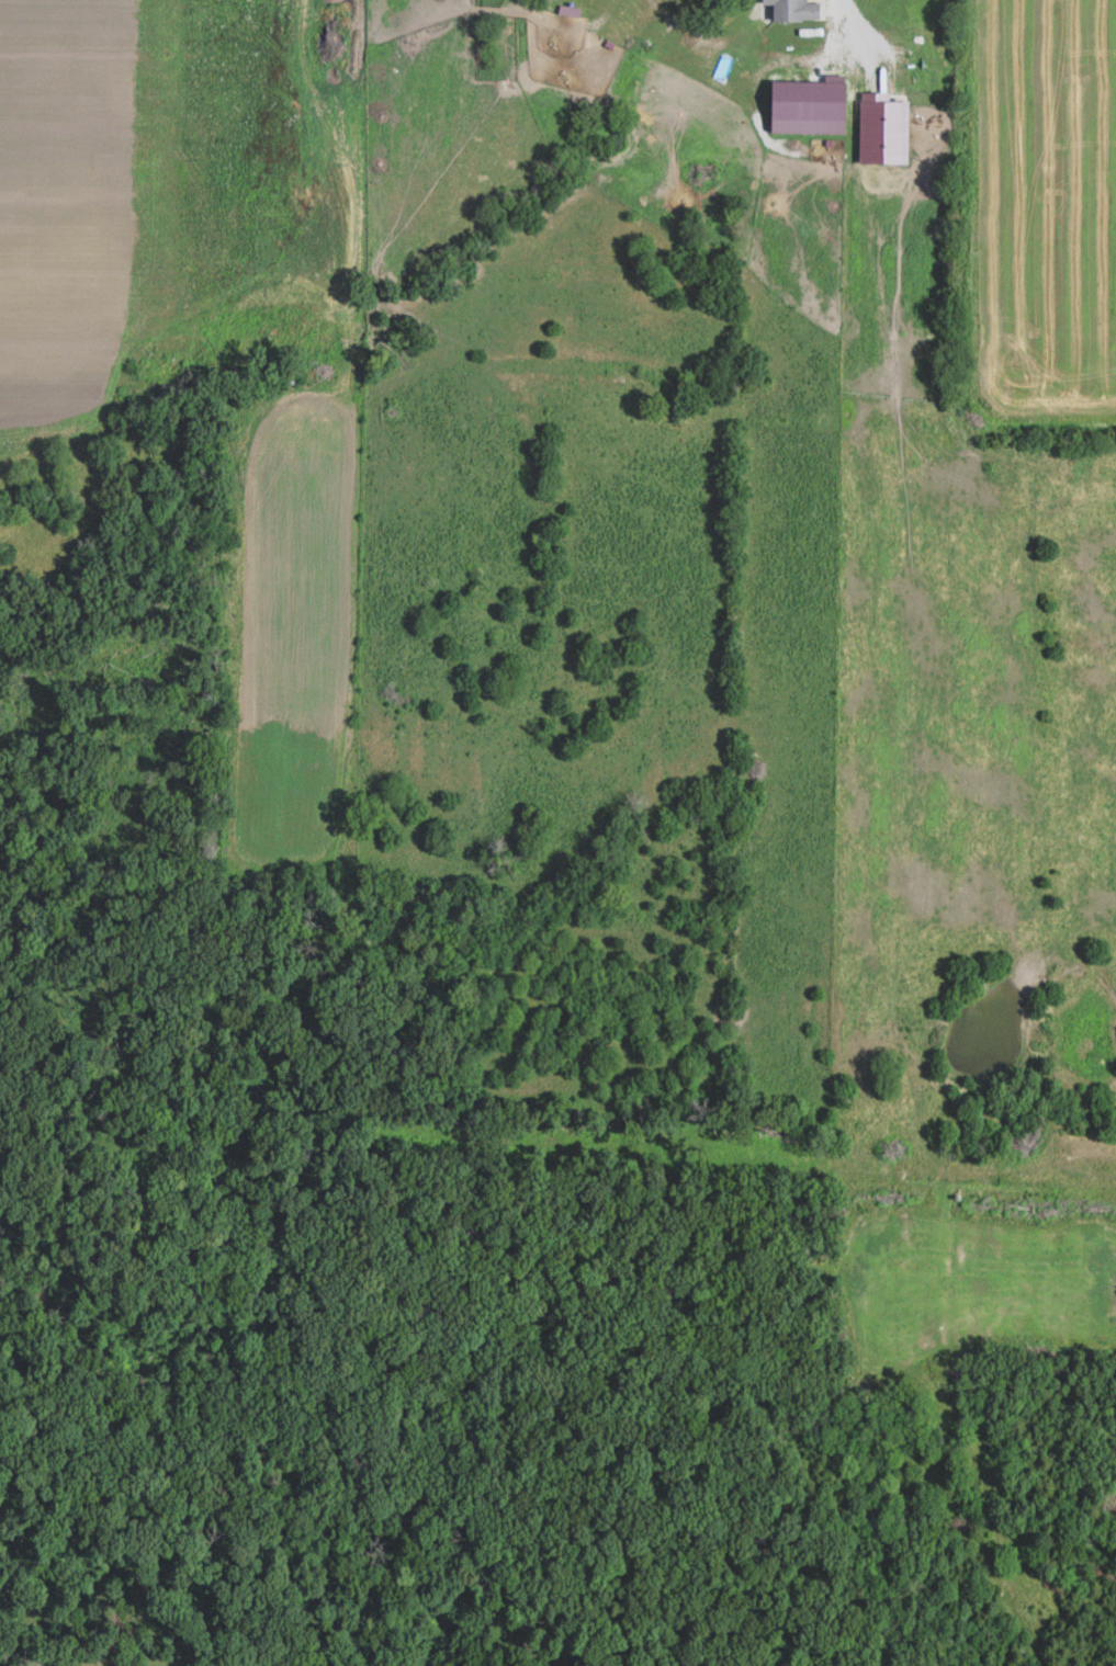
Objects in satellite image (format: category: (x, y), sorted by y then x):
building: (568, 10)
building: (798, 10)
building: (813, 107)

